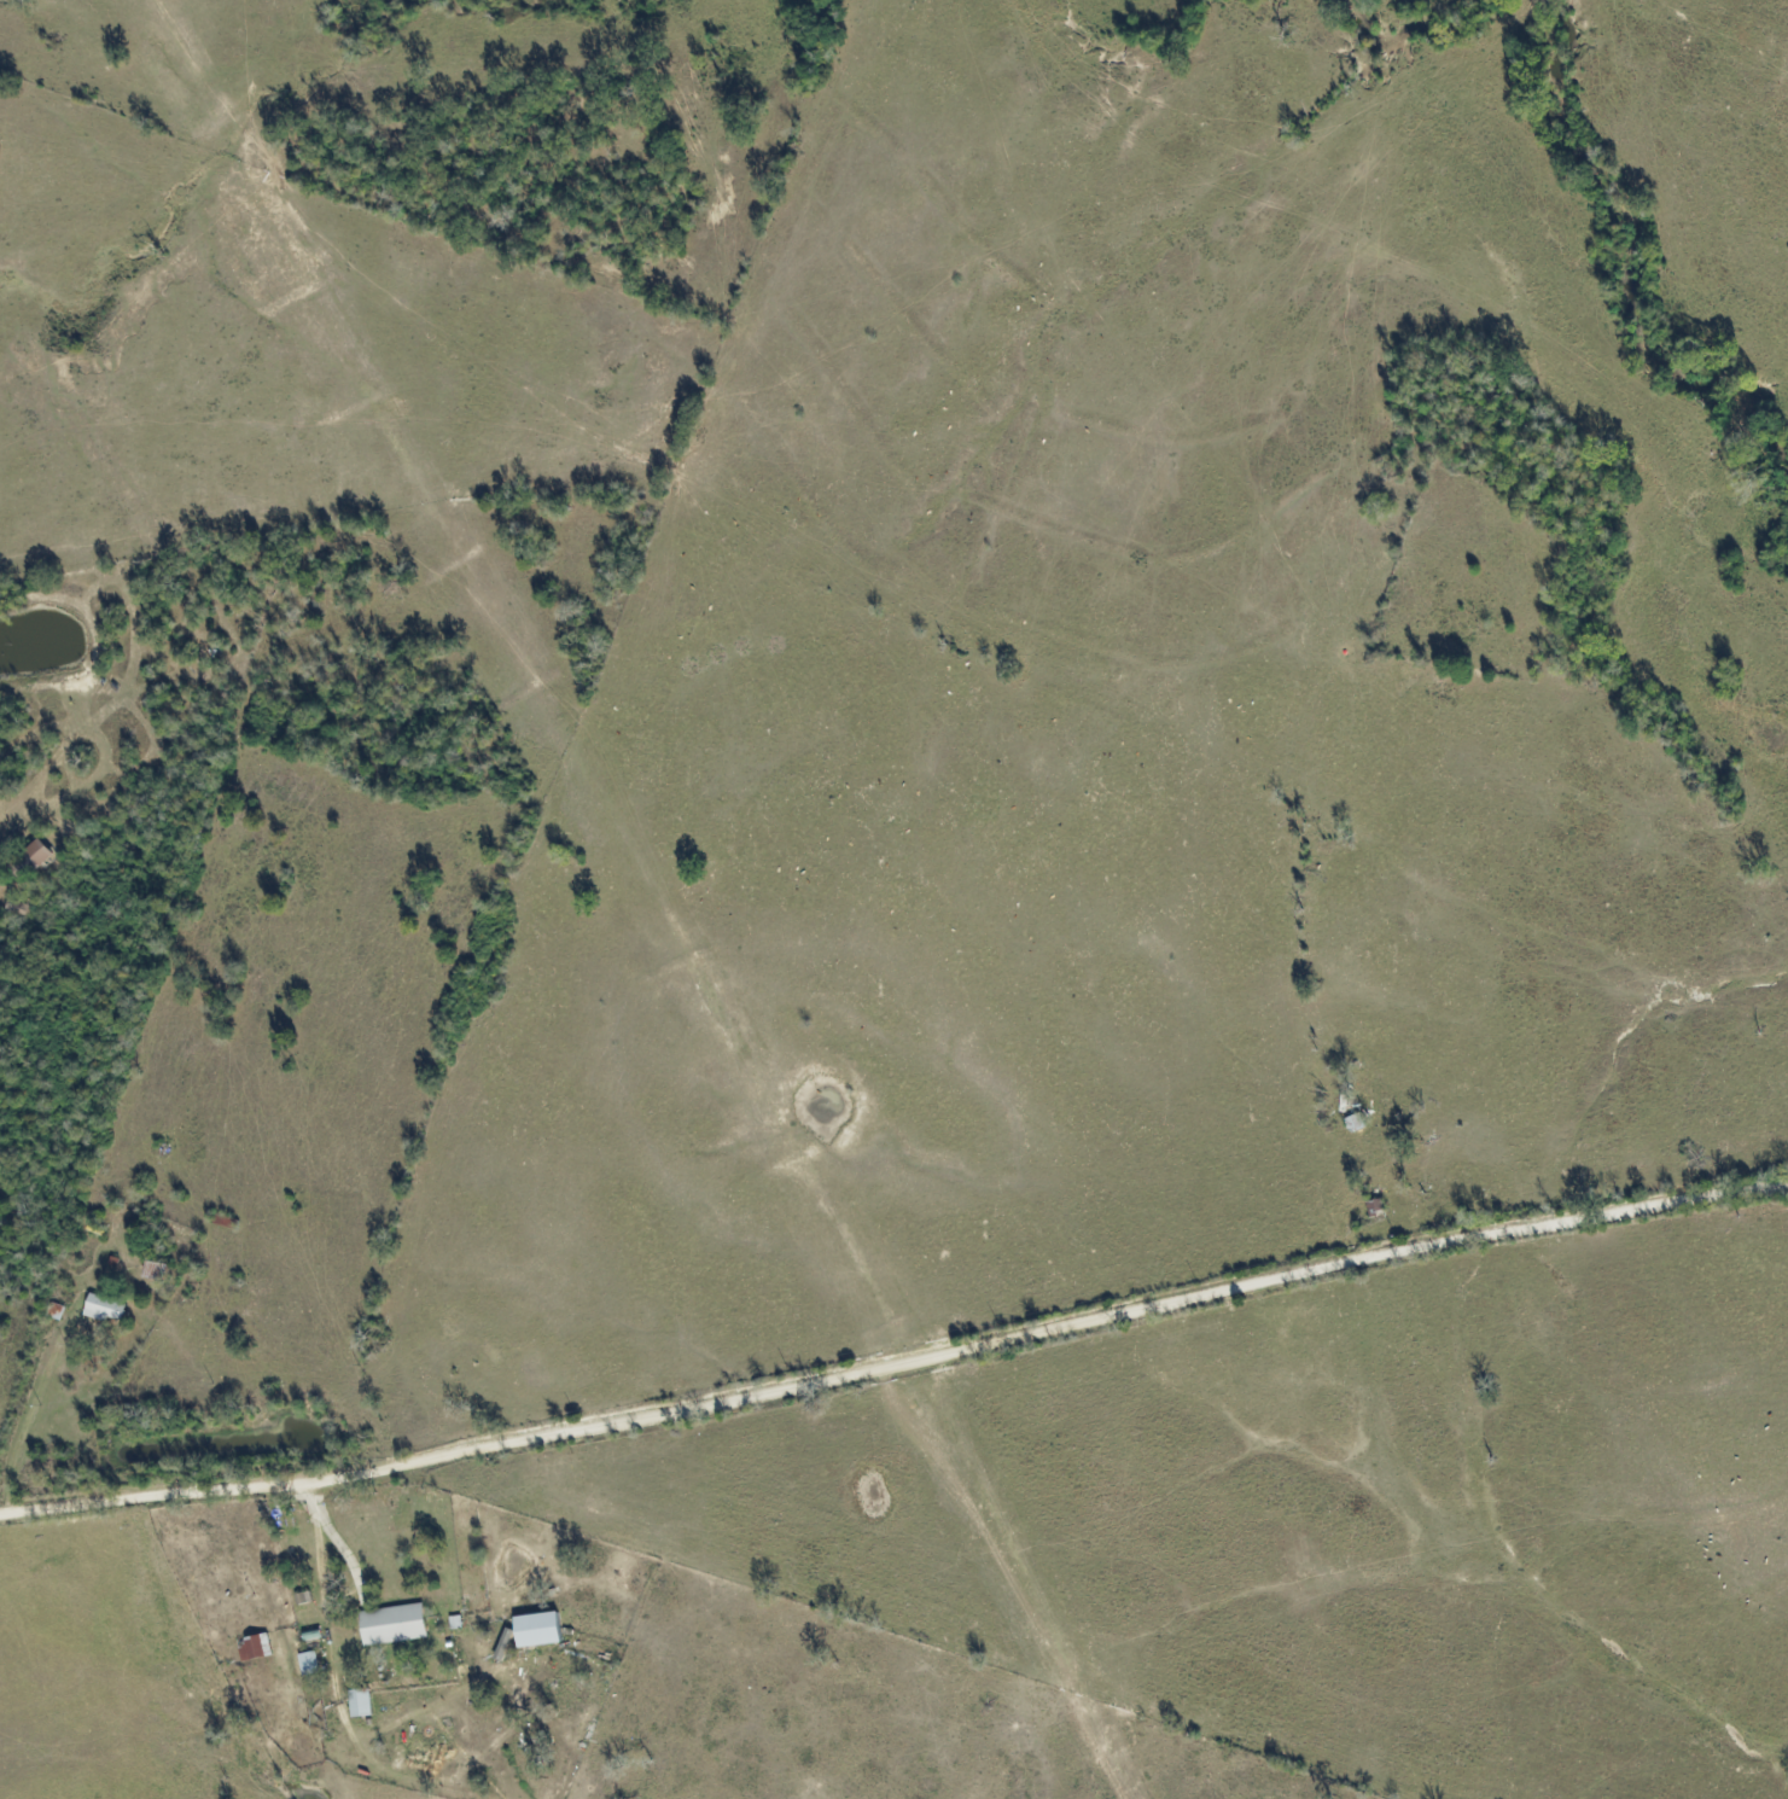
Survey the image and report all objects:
road: (1260, 507)
building: (31, 861)
building: (106, 1309)
road: (897, 1368)
building: (458, 1623)
building: (396, 1625)
building: (538, 1630)
building: (257, 1648)
building: (311, 1664)
building: (362, 1704)

